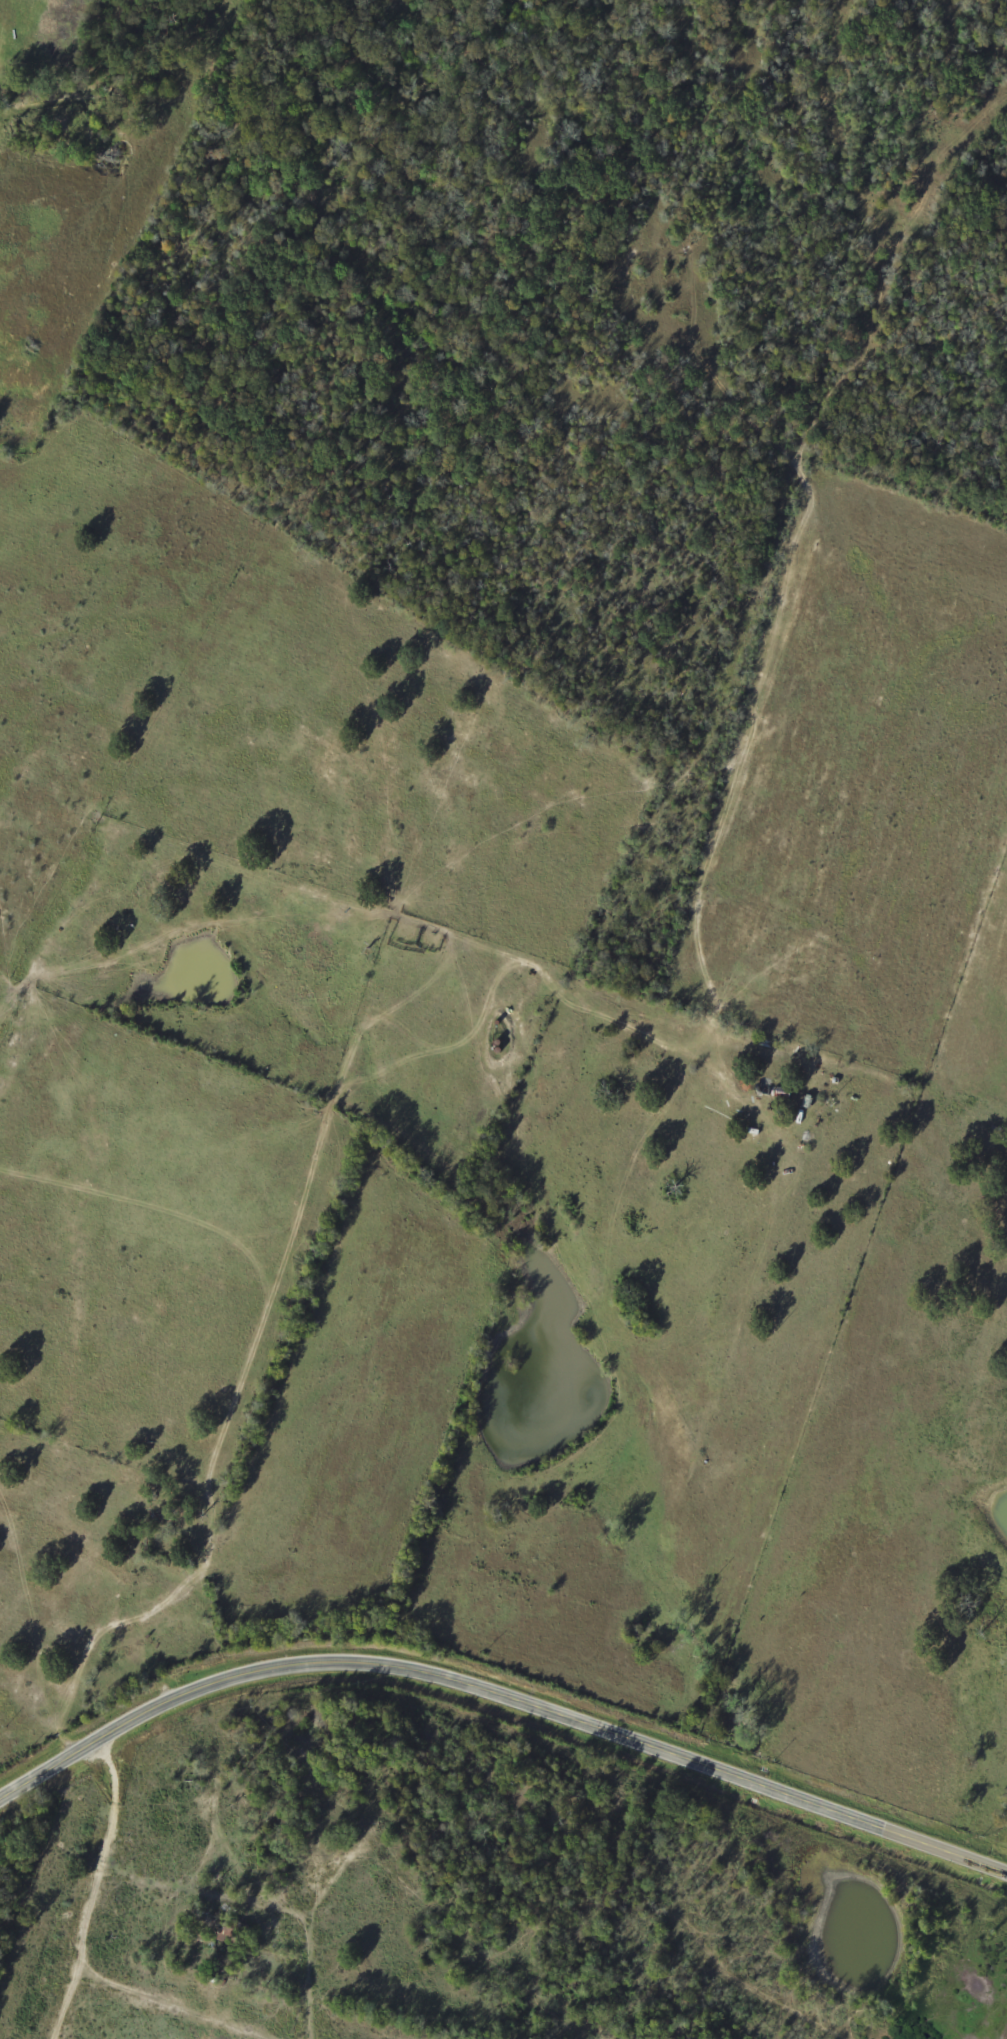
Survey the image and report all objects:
road: (500, 1695)

